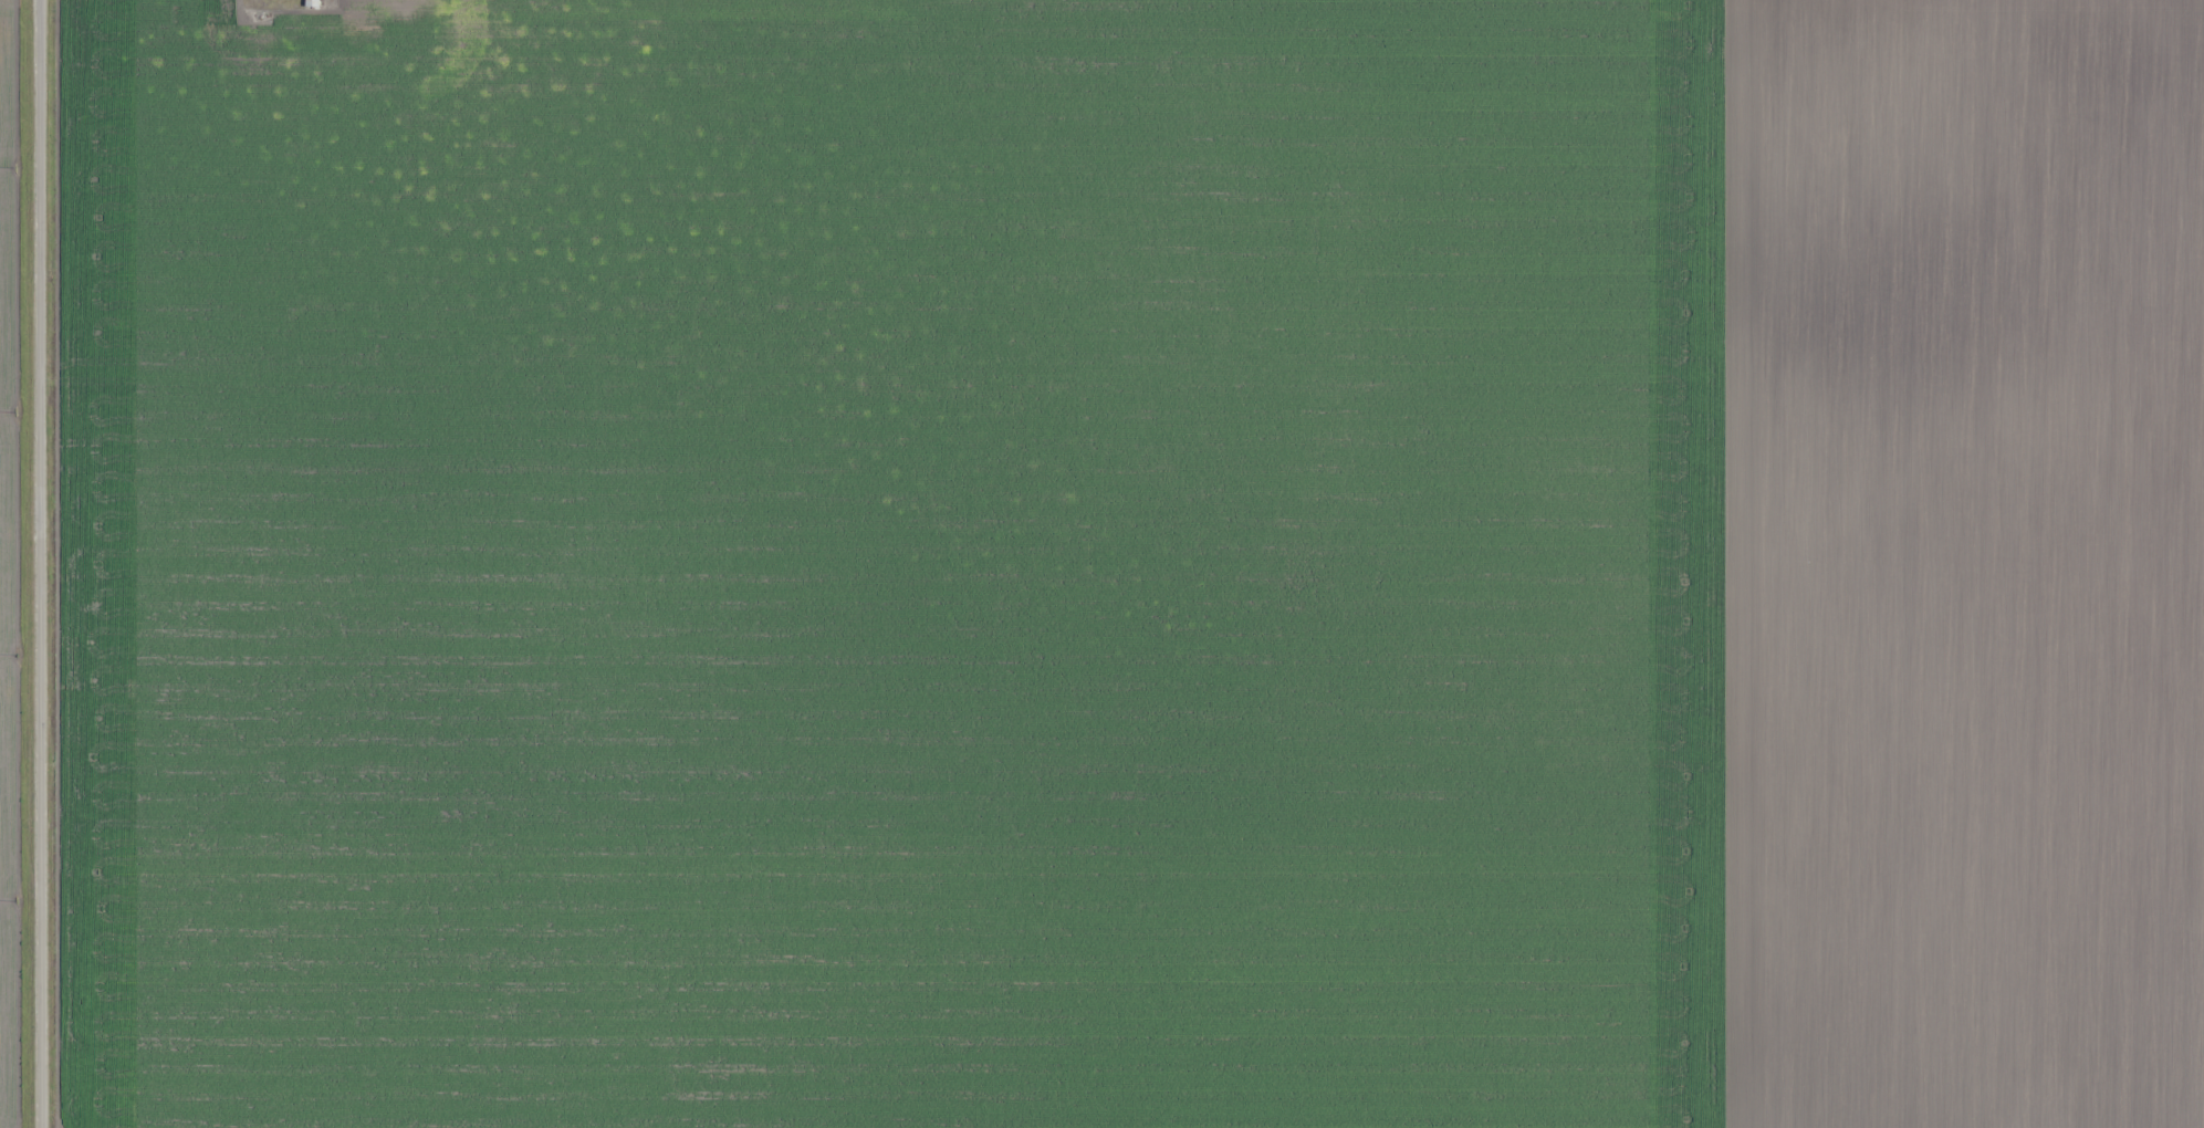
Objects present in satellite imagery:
road: (39, 564)

